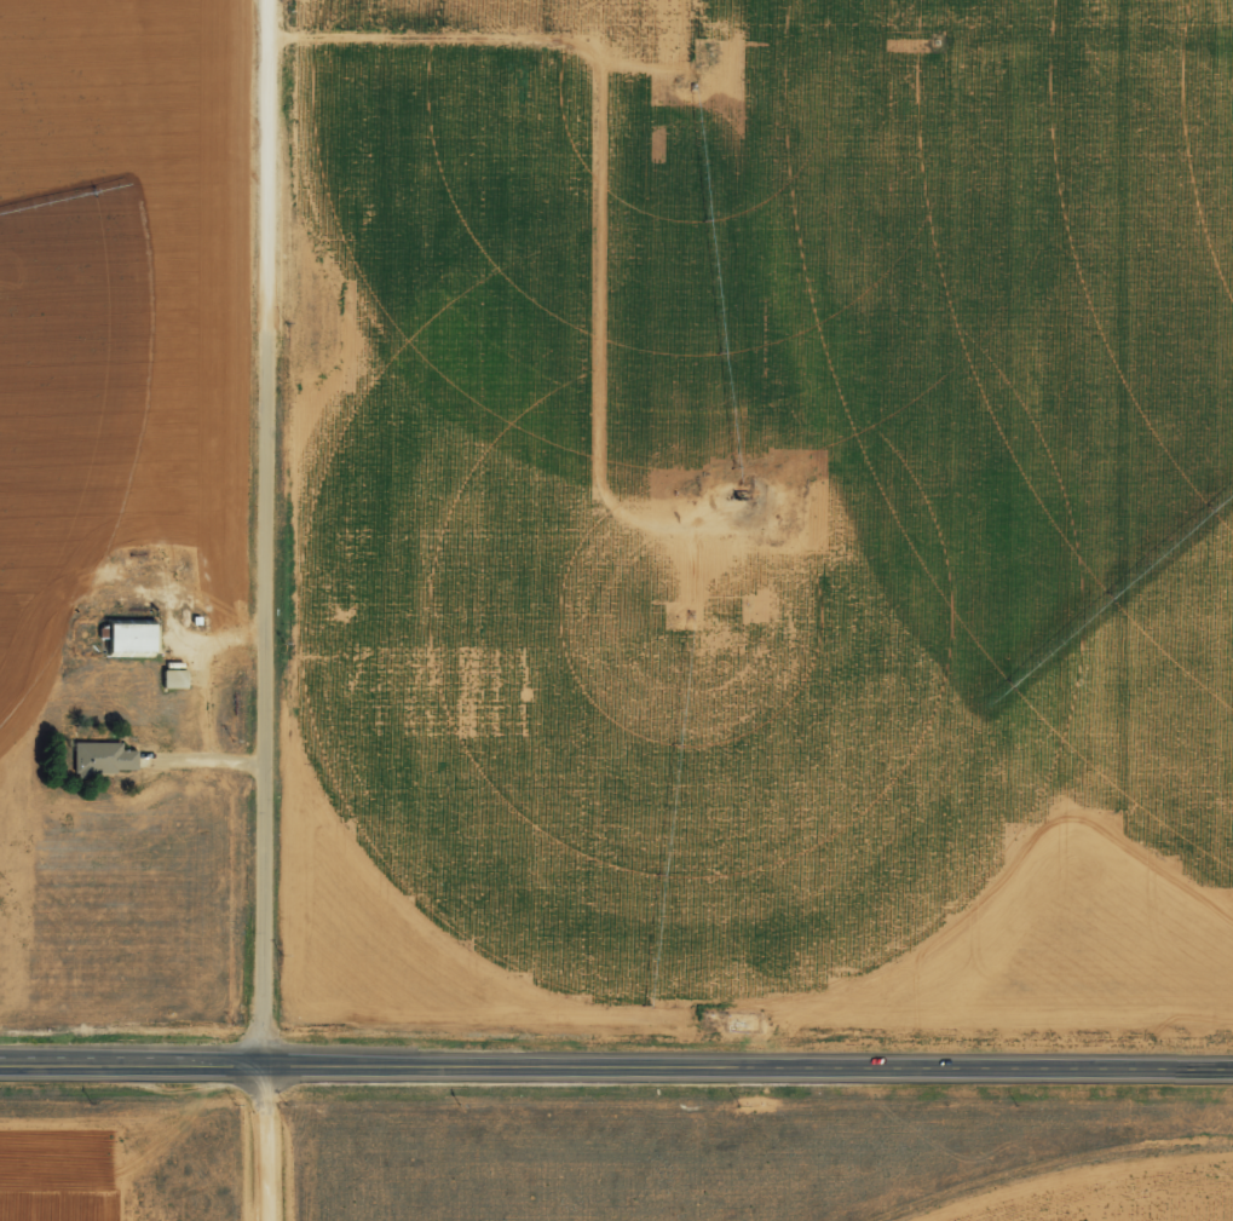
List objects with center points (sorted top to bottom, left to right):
petroleum well: (745, 500)
road: (281, 610)
building: (104, 755)
road: (616, 1071)

